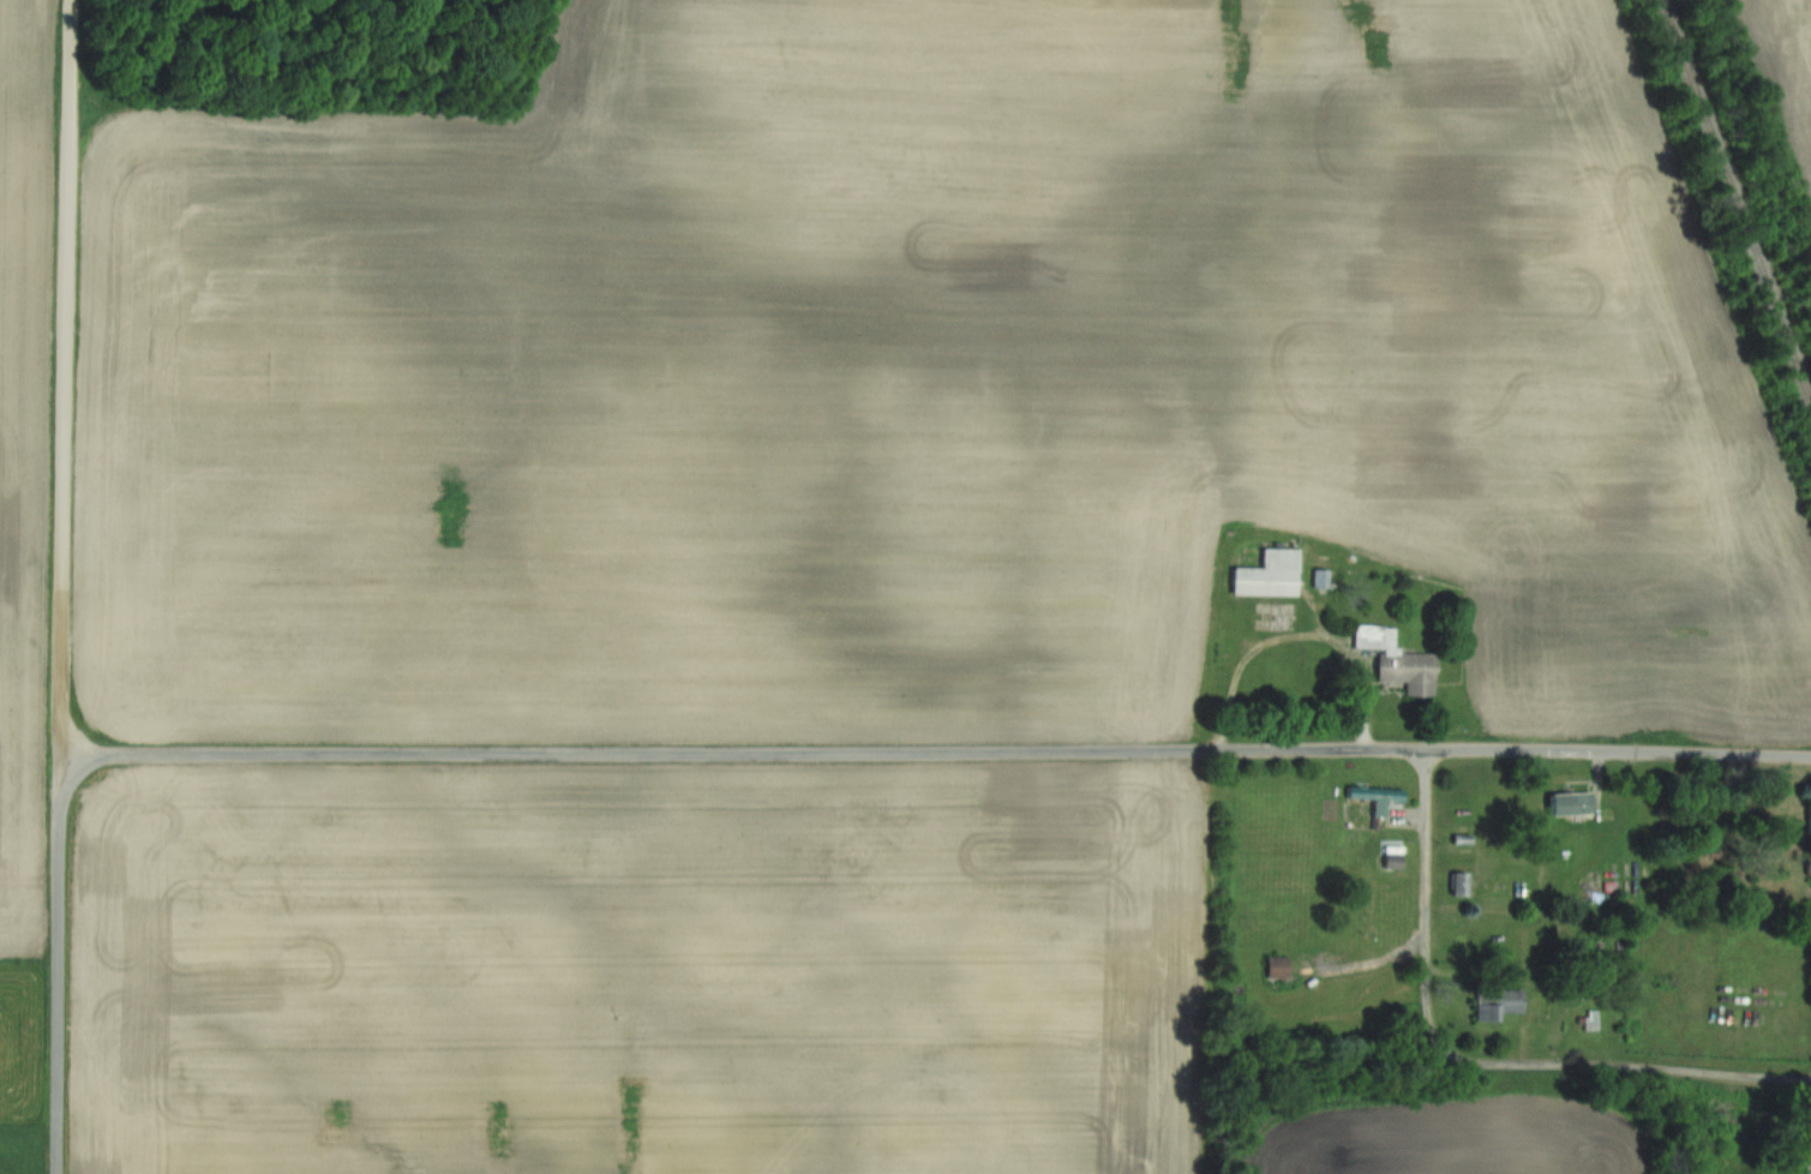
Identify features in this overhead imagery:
railway: (1729, 212)
building: (1272, 576)
road: (64, 586)
road: (1302, 634)
building: (1401, 661)
road: (937, 756)
building: (1374, 793)
building: (1575, 803)
building: (1397, 861)
building: (1810, 864)
building: (1462, 882)
road: (1427, 902)
building: (1281, 966)
building: (1503, 1002)
road: (1624, 1066)

